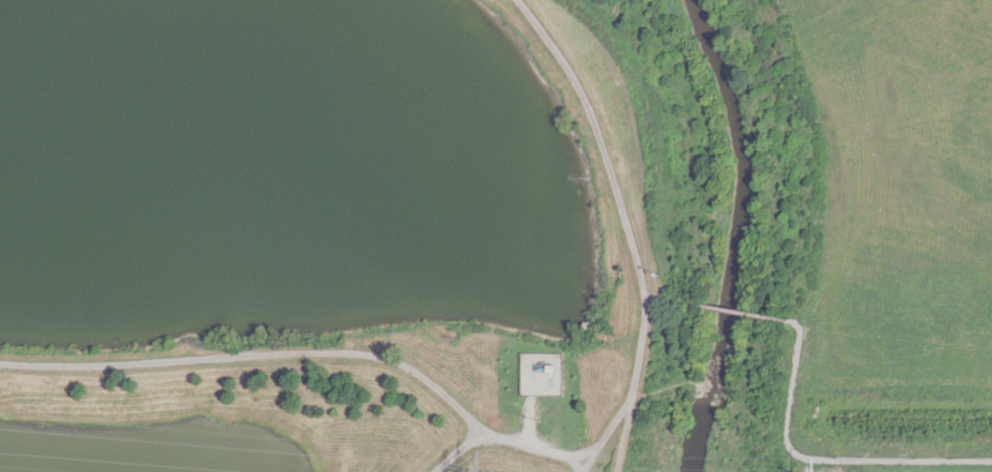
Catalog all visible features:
road: (607, 161)
road: (659, 299)
road: (730, 310)
road: (145, 362)
road: (637, 367)
road: (471, 419)
road: (625, 432)
road: (453, 449)
road: (821, 459)
road: (579, 465)

